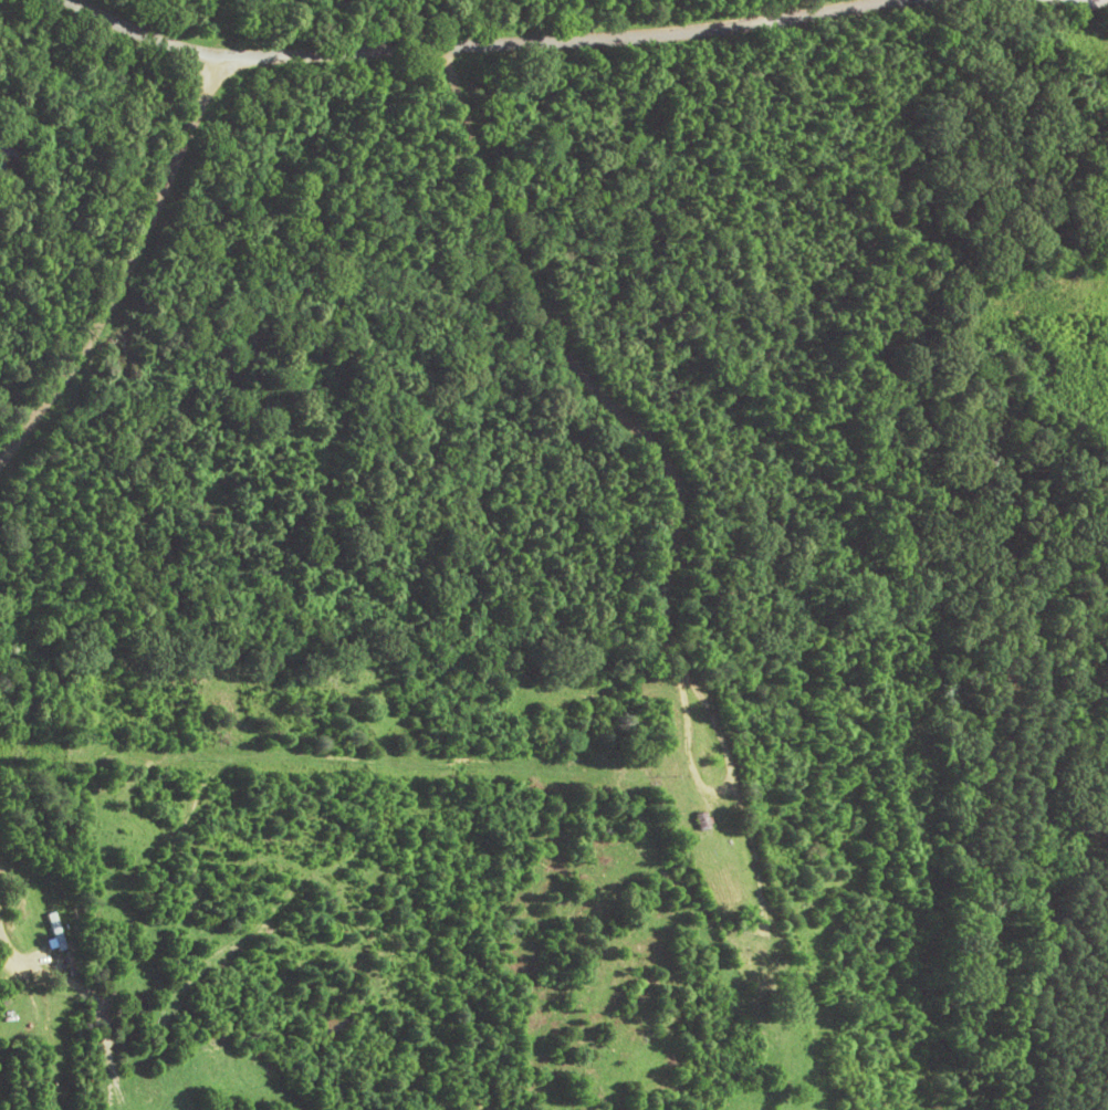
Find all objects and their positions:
road: (96, 202)
road: (621, 444)
building: (700, 824)
building: (54, 933)

